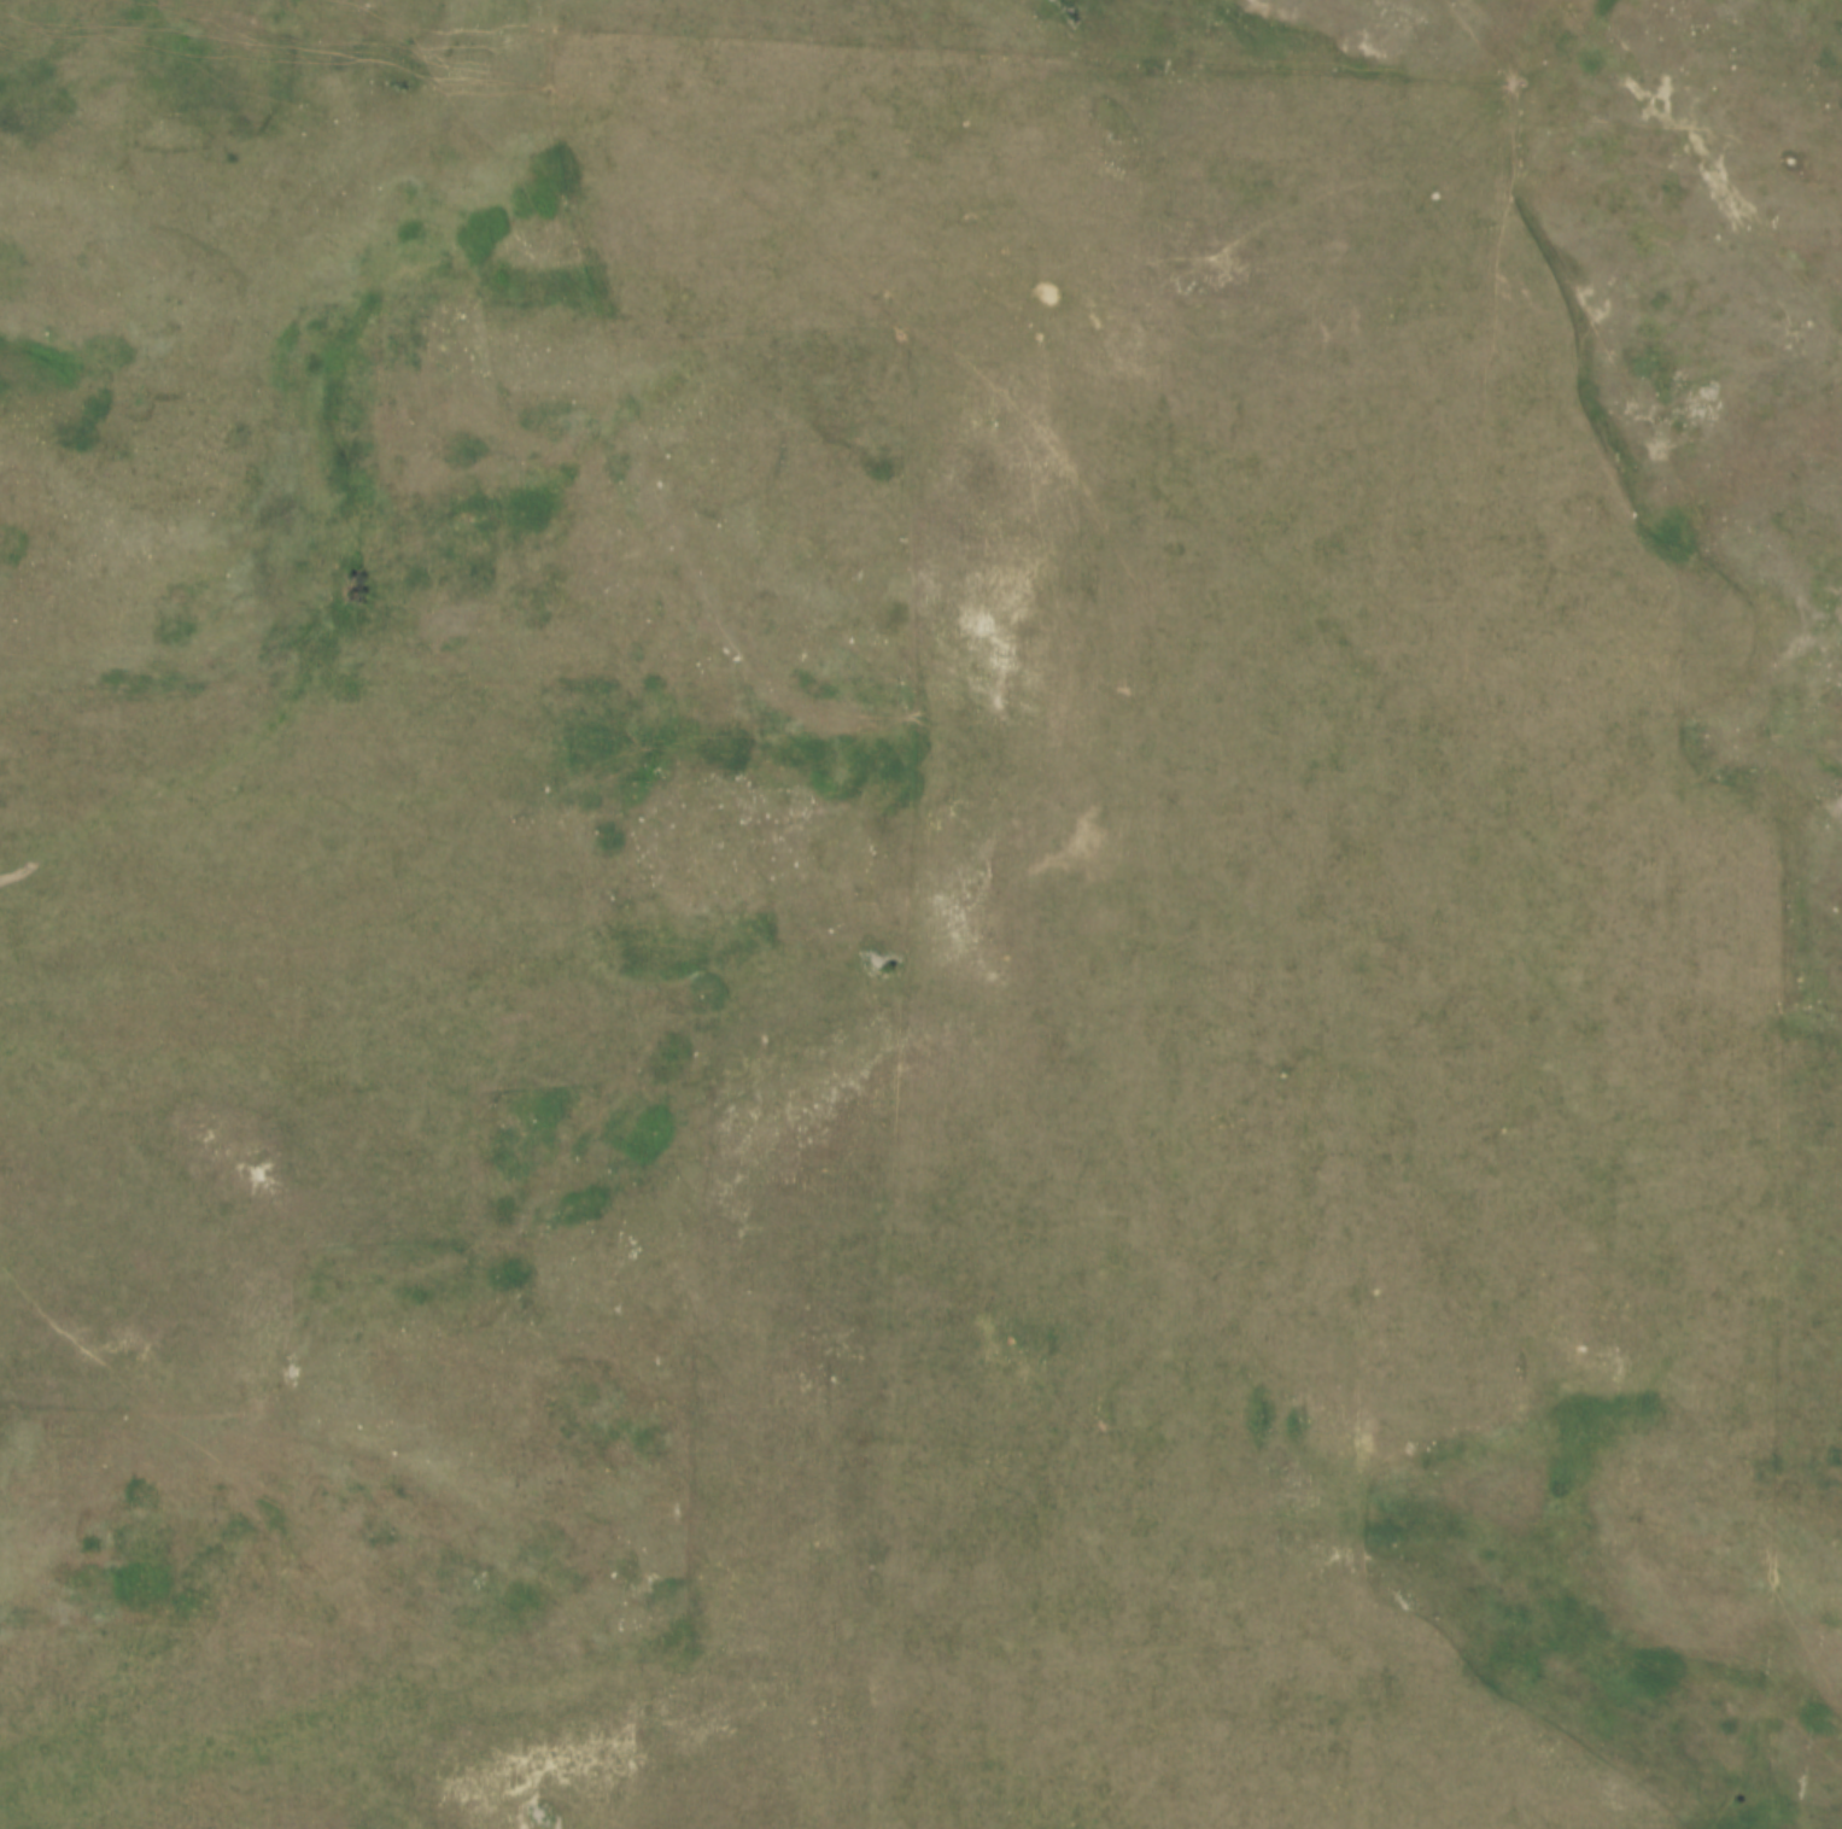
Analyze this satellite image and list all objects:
road: (1777, 1794)

